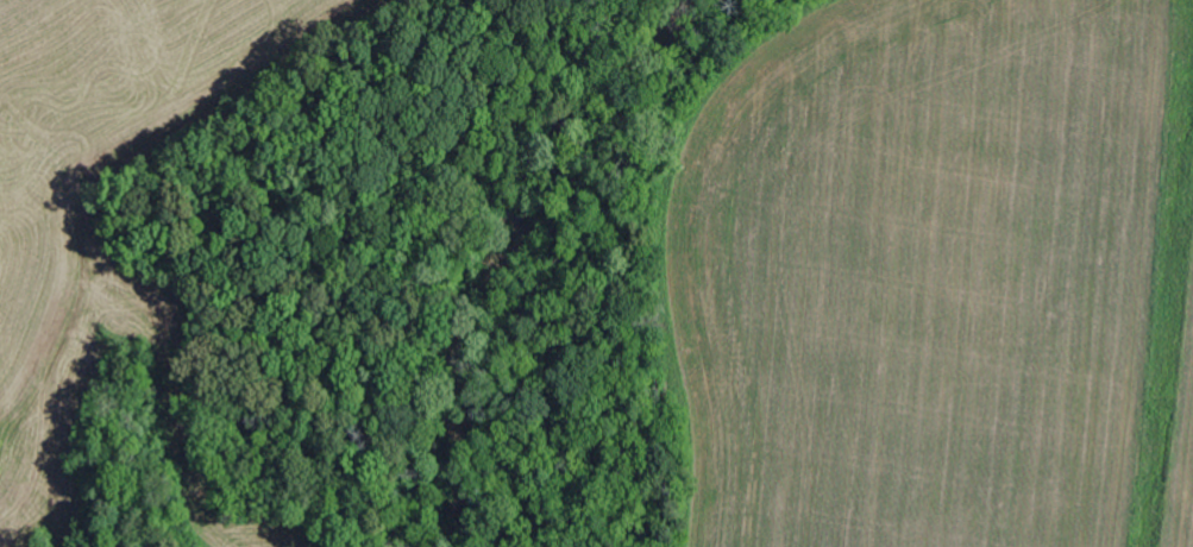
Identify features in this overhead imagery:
road: (108, 138)

